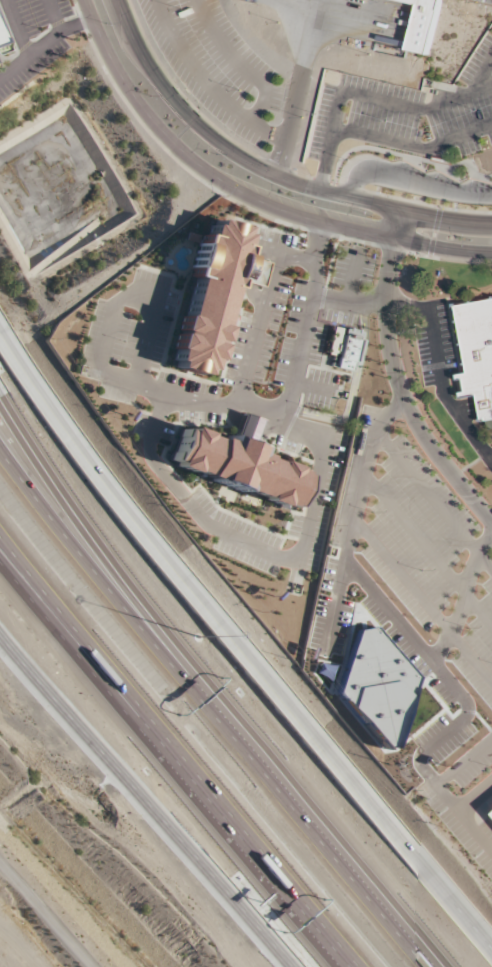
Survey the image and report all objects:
road: (51, 14)
building: (425, 25)
road: (16, 26)
road: (42, 39)
building: (4, 42)
road: (234, 62)
road: (193, 69)
road: (482, 72)
road: (296, 87)
road: (368, 96)
road: (203, 129)
road: (268, 131)
road: (413, 144)
road: (410, 181)
road: (243, 193)
road: (417, 213)
road: (398, 224)
road: (432, 232)
road: (254, 269)
road: (351, 276)
road: (141, 291)
building: (216, 296)
road: (349, 302)
road: (265, 310)
road: (308, 315)
building: (476, 351)
building: (348, 353)
road: (437, 372)
parking lot: (445, 373)
road: (311, 385)
road: (352, 391)
road: (402, 393)
parking lot: (238, 403)
road: (280, 409)
building: (247, 425)
road: (253, 428)
parking lot: (491, 435)
road: (365, 466)
building: (243, 472)
road: (433, 500)
road: (187, 502)
road: (91, 538)
parking lot: (420, 544)
road: (429, 552)
road: (11, 560)
road: (467, 580)
road: (422, 602)
road: (443, 649)
road: (241, 660)
road: (438, 666)
road: (214, 707)
road: (176, 757)
road: (463, 760)
parking lot: (463, 794)
road: (474, 794)
road: (142, 799)
road: (463, 816)

